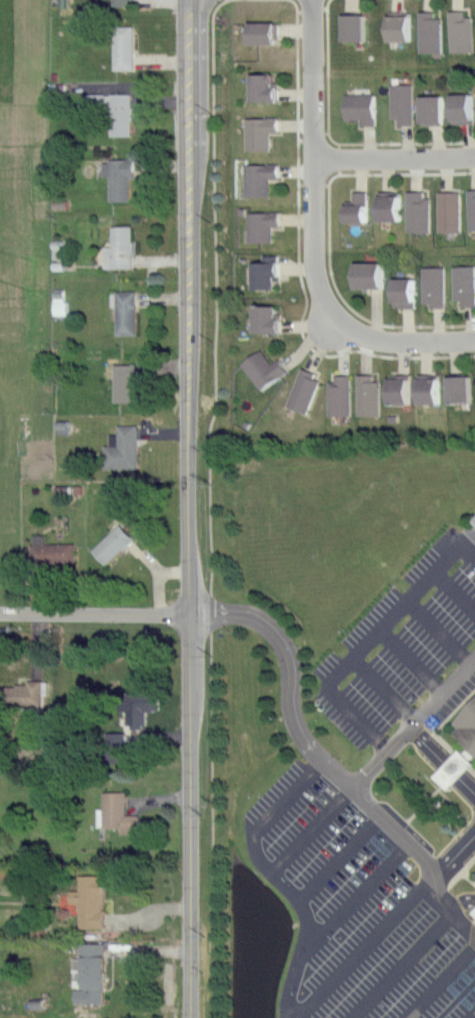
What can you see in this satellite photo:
building: (124, 2)
building: (351, 24)
building: (396, 24)
building: (458, 30)
building: (428, 31)
building: (260, 32)
building: (124, 47)
building: (260, 87)
building: (399, 102)
building: (357, 106)
building: (459, 106)
building: (429, 109)
building: (115, 110)
building: (259, 132)
road: (333, 140)
road: (314, 152)
road: (395, 154)
building: (120, 177)
building: (259, 178)
building: (354, 206)
building: (386, 206)
building: (469, 208)
building: (446, 210)
building: (415, 211)
building: (261, 223)
road: (329, 237)
building: (120, 248)
road: (298, 259)
building: (262, 274)
building: (367, 274)
building: (462, 283)
building: (432, 285)
building: (401, 292)
building: (59, 302)
building: (124, 311)
road: (216, 313)
building: (264, 319)
road: (394, 336)
building: (262, 369)
building: (123, 383)
building: (458, 389)
building: (428, 390)
building: (302, 391)
building: (396, 392)
building: (367, 394)
building: (339, 395)
building: (120, 447)
road: (189, 508)
building: (473, 520)
road: (472, 523)
building: (112, 544)
building: (51, 552)
road: (454, 592)
road: (95, 613)
road: (438, 631)
road: (369, 640)
parking lot: (406, 651)
road: (410, 661)
road: (383, 689)
road: (442, 691)
building: (22, 693)
building: (138, 702)
building: (468, 727)
road: (413, 730)
building: (114, 747)
road: (454, 750)
road: (314, 752)
building: (459, 767)
road: (292, 789)
building: (118, 813)
road: (211, 824)
road: (310, 830)
road: (456, 850)
road: (340, 860)
road: (461, 869)
road: (468, 876)
road: (360, 893)
building: (86, 902)
road: (300, 909)
parking lot: (358, 909)
road: (365, 947)
road: (409, 957)
building: (91, 969)
road: (440, 982)
road: (472, 1015)

